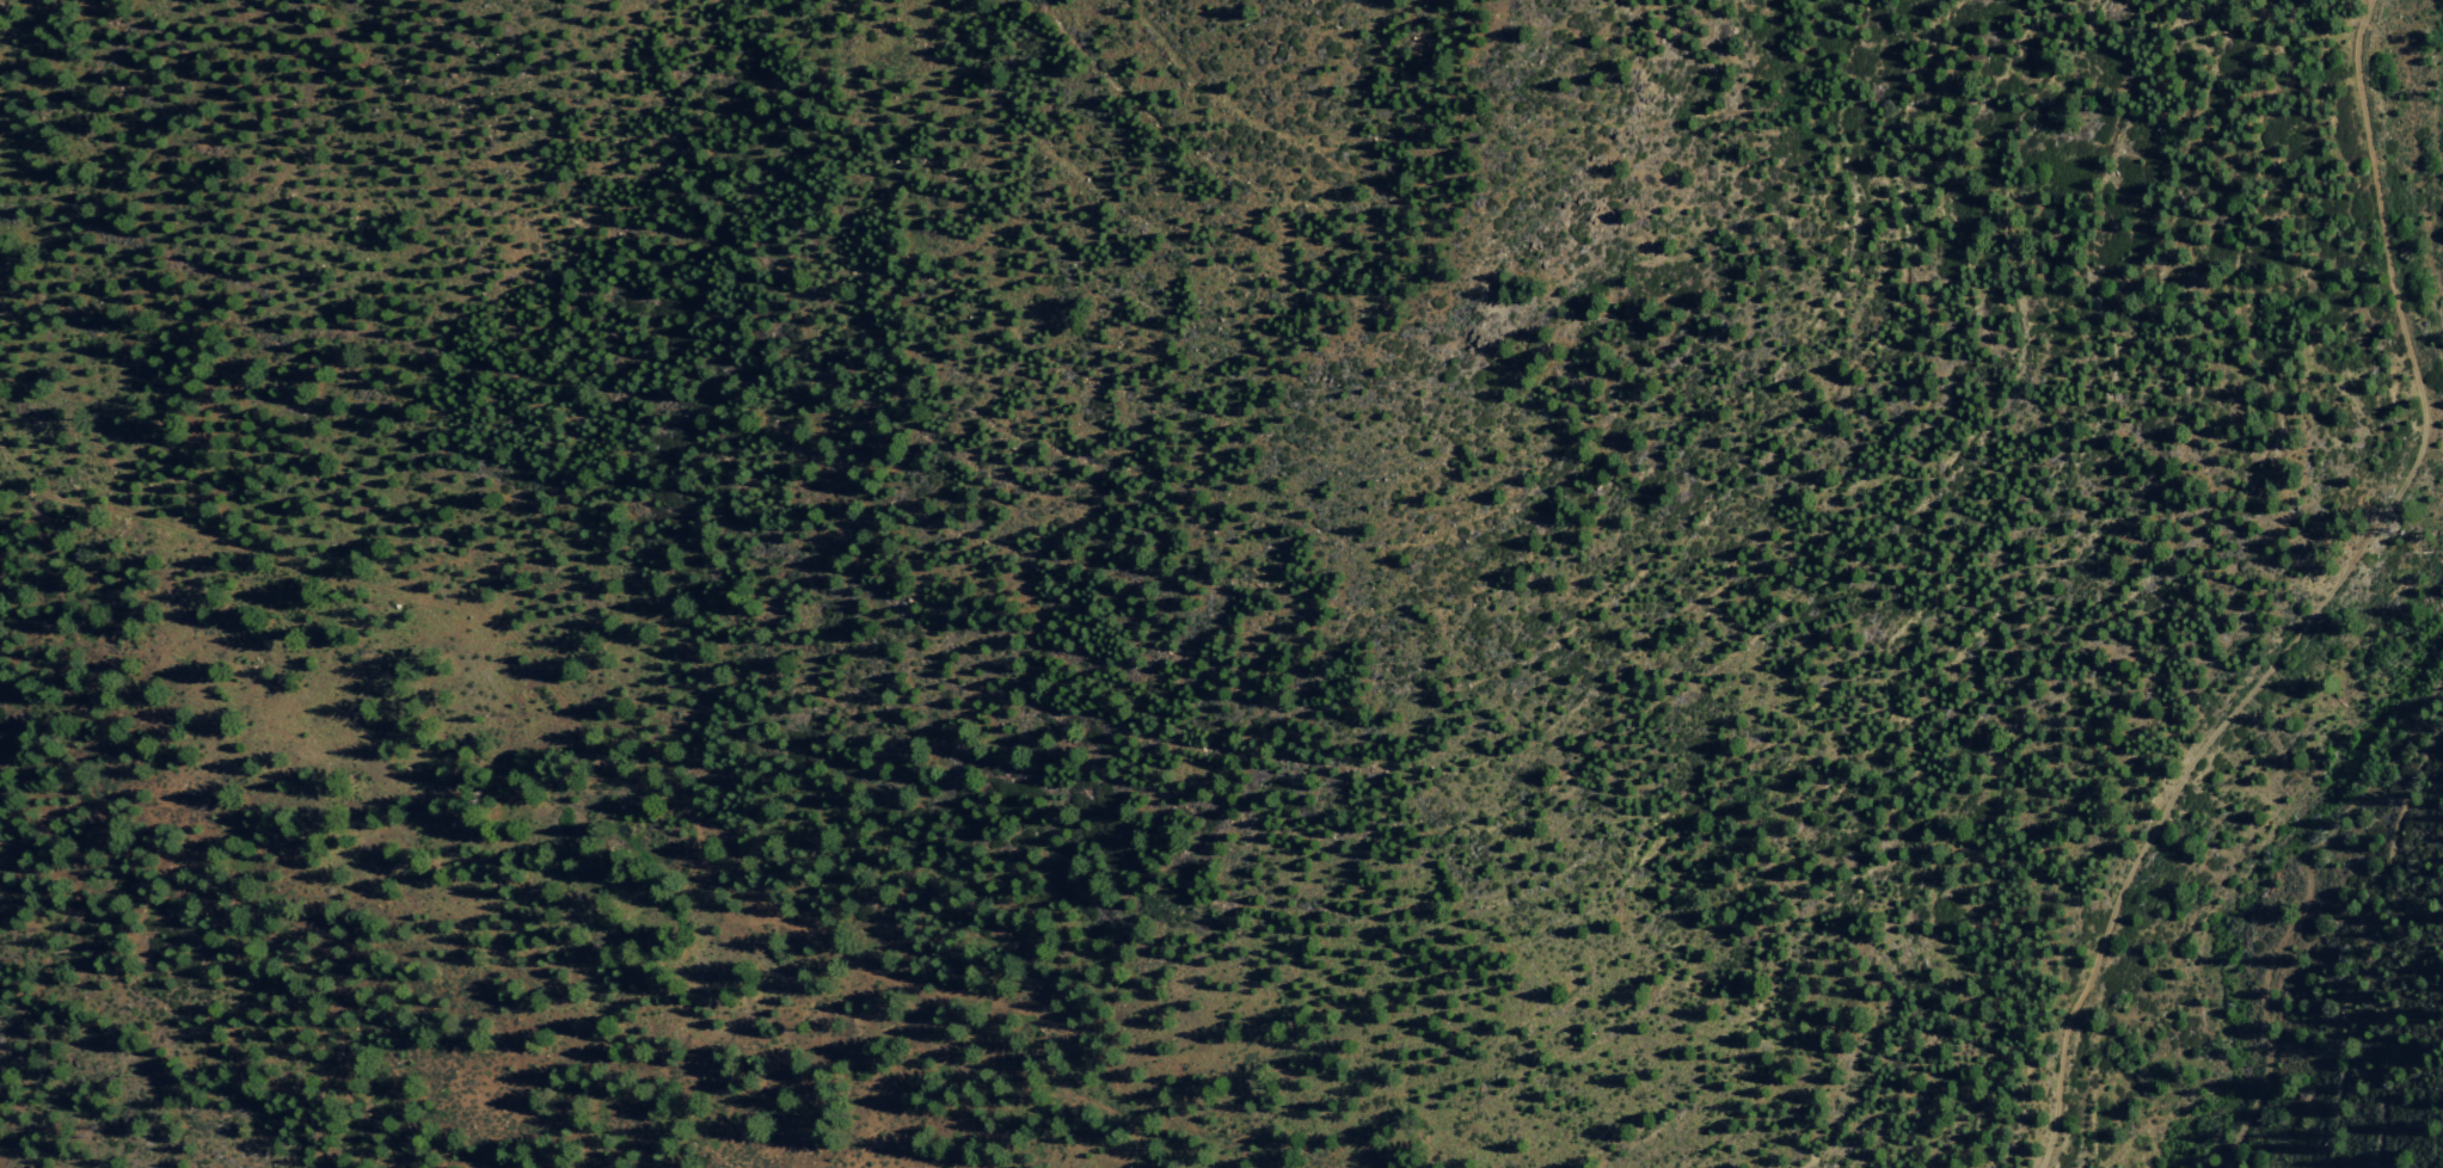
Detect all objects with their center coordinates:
road: (2324, 602)

